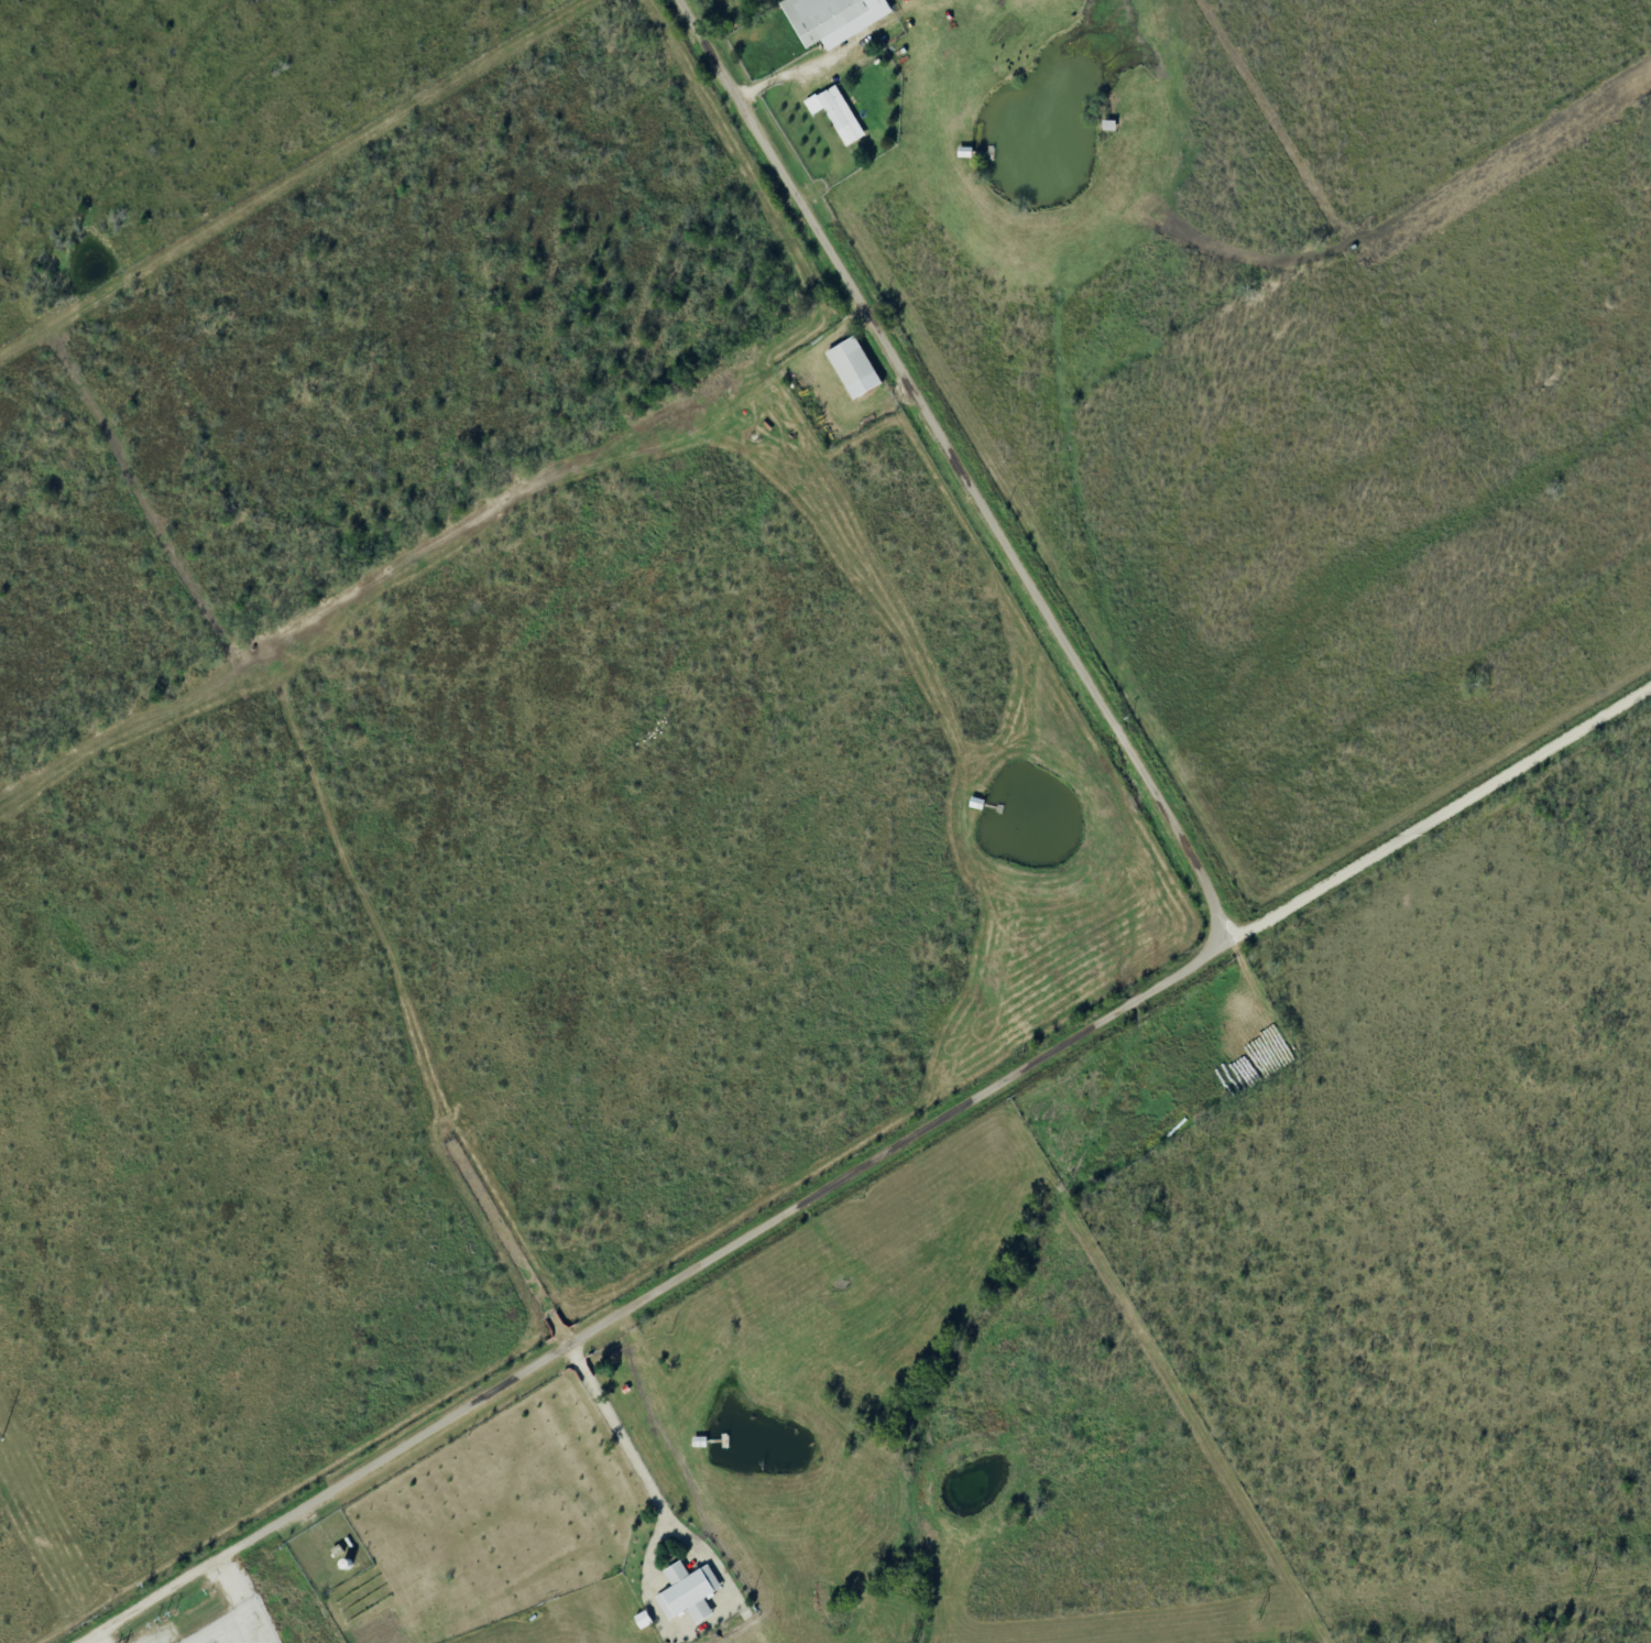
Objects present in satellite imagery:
building: (838, 19)
building: (841, 115)
building: (860, 370)
road: (1425, 829)
road: (1124, 1013)
power tower: (2, 1439)
power tower: (1587, 1589)
building: (693, 1593)
power tower: (1260, 1614)
power substation: (238, 1626)

